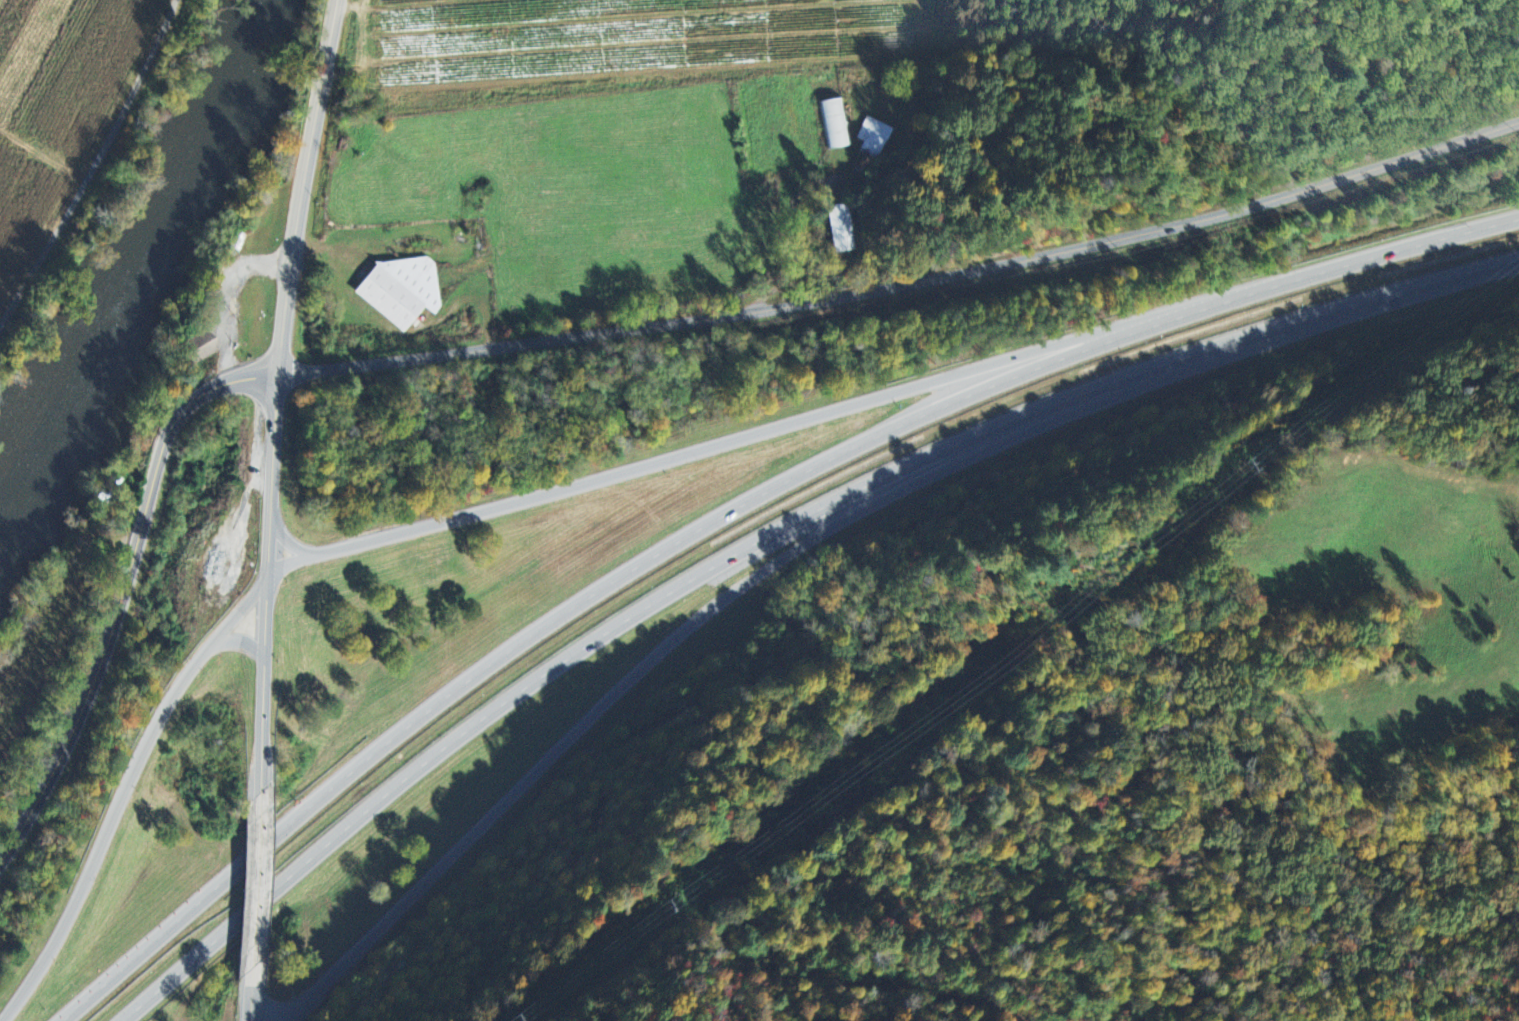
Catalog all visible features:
building: (833, 120)
building: (873, 137)
river: (191, 223)
building: (841, 225)
building: (237, 238)
building: (414, 277)
road: (907, 284)
building: (388, 296)
power tower: (1502, 302)
building: (194, 346)
road: (279, 394)
road: (730, 441)
river: (30, 468)
building: (104, 492)
road: (731, 512)
road: (764, 537)
road: (290, 543)
road: (124, 591)
road: (697, 620)
road: (235, 641)
road: (122, 791)
power tower: (871, 793)
road: (256, 879)
road: (252, 993)

